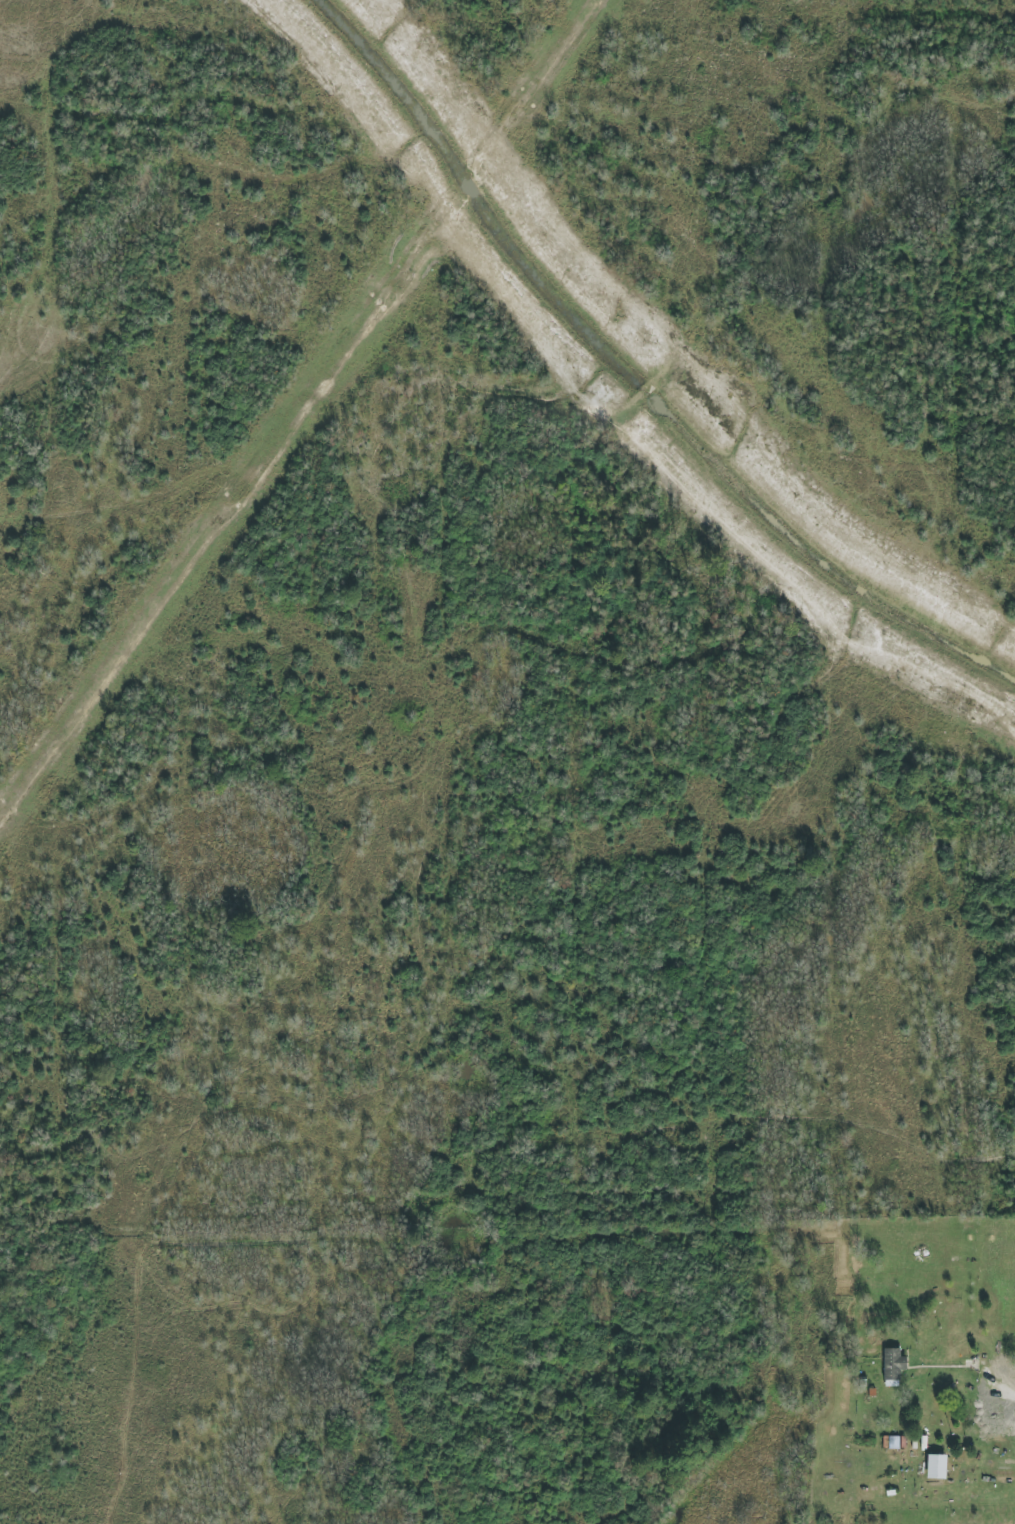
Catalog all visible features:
road: (1005, 1384)
building: (936, 1466)

